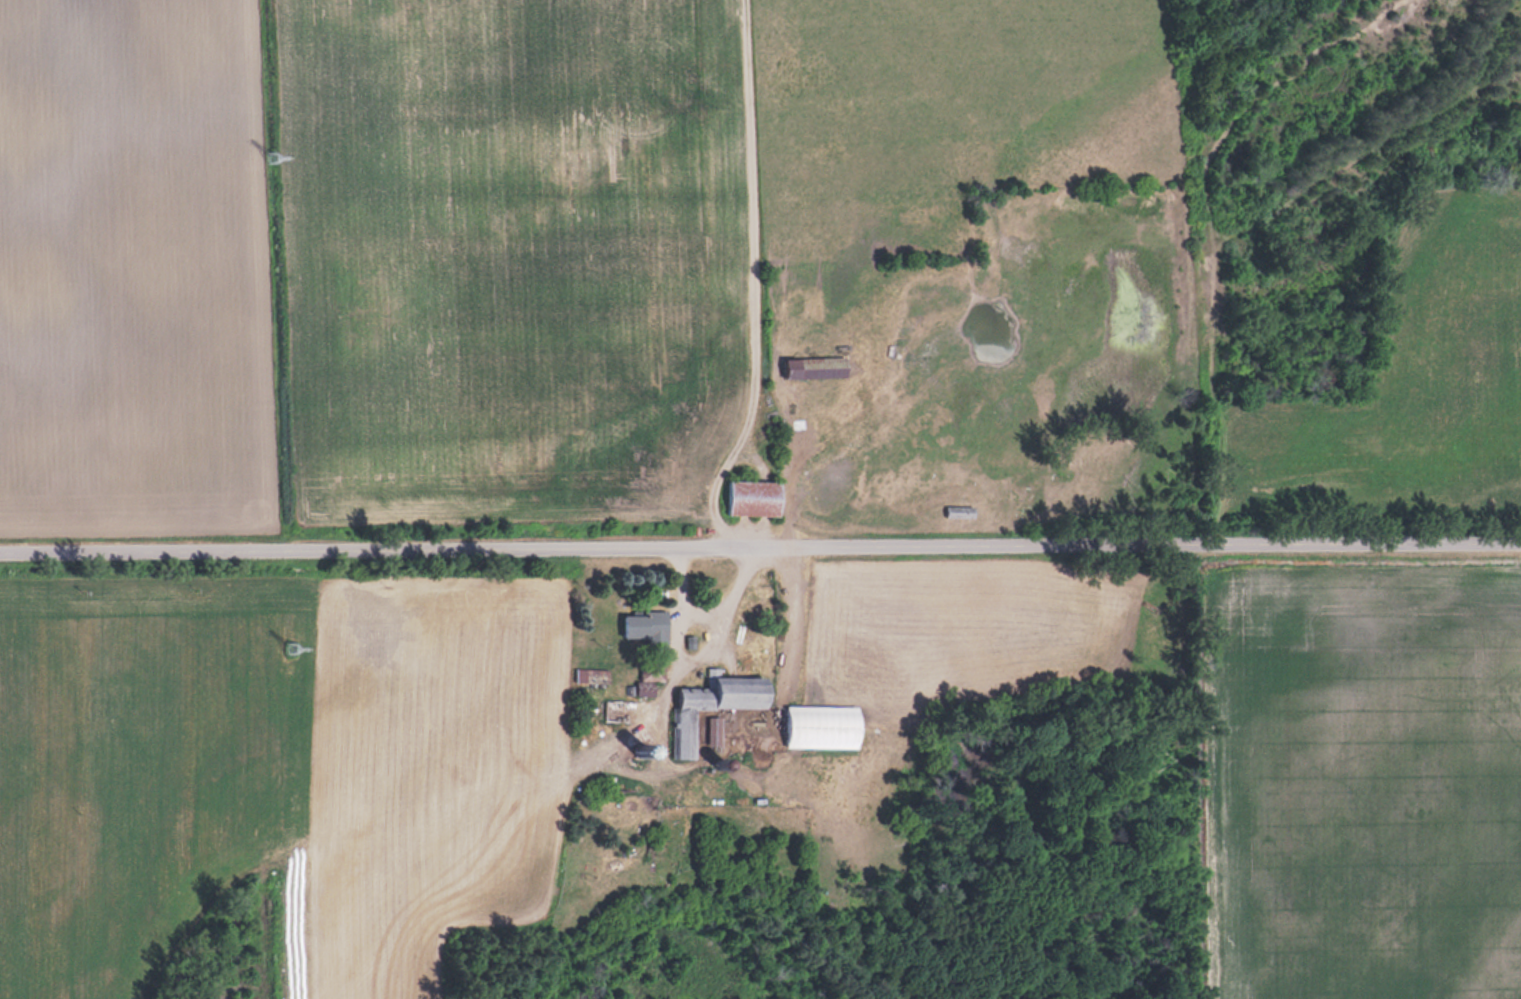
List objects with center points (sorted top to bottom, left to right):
power tower: (270, 155)
building: (816, 366)
building: (754, 496)
building: (960, 510)
road: (760, 553)
road: (707, 613)
building: (645, 628)
power tower: (296, 649)
building: (714, 703)
building: (823, 726)
building: (715, 734)

